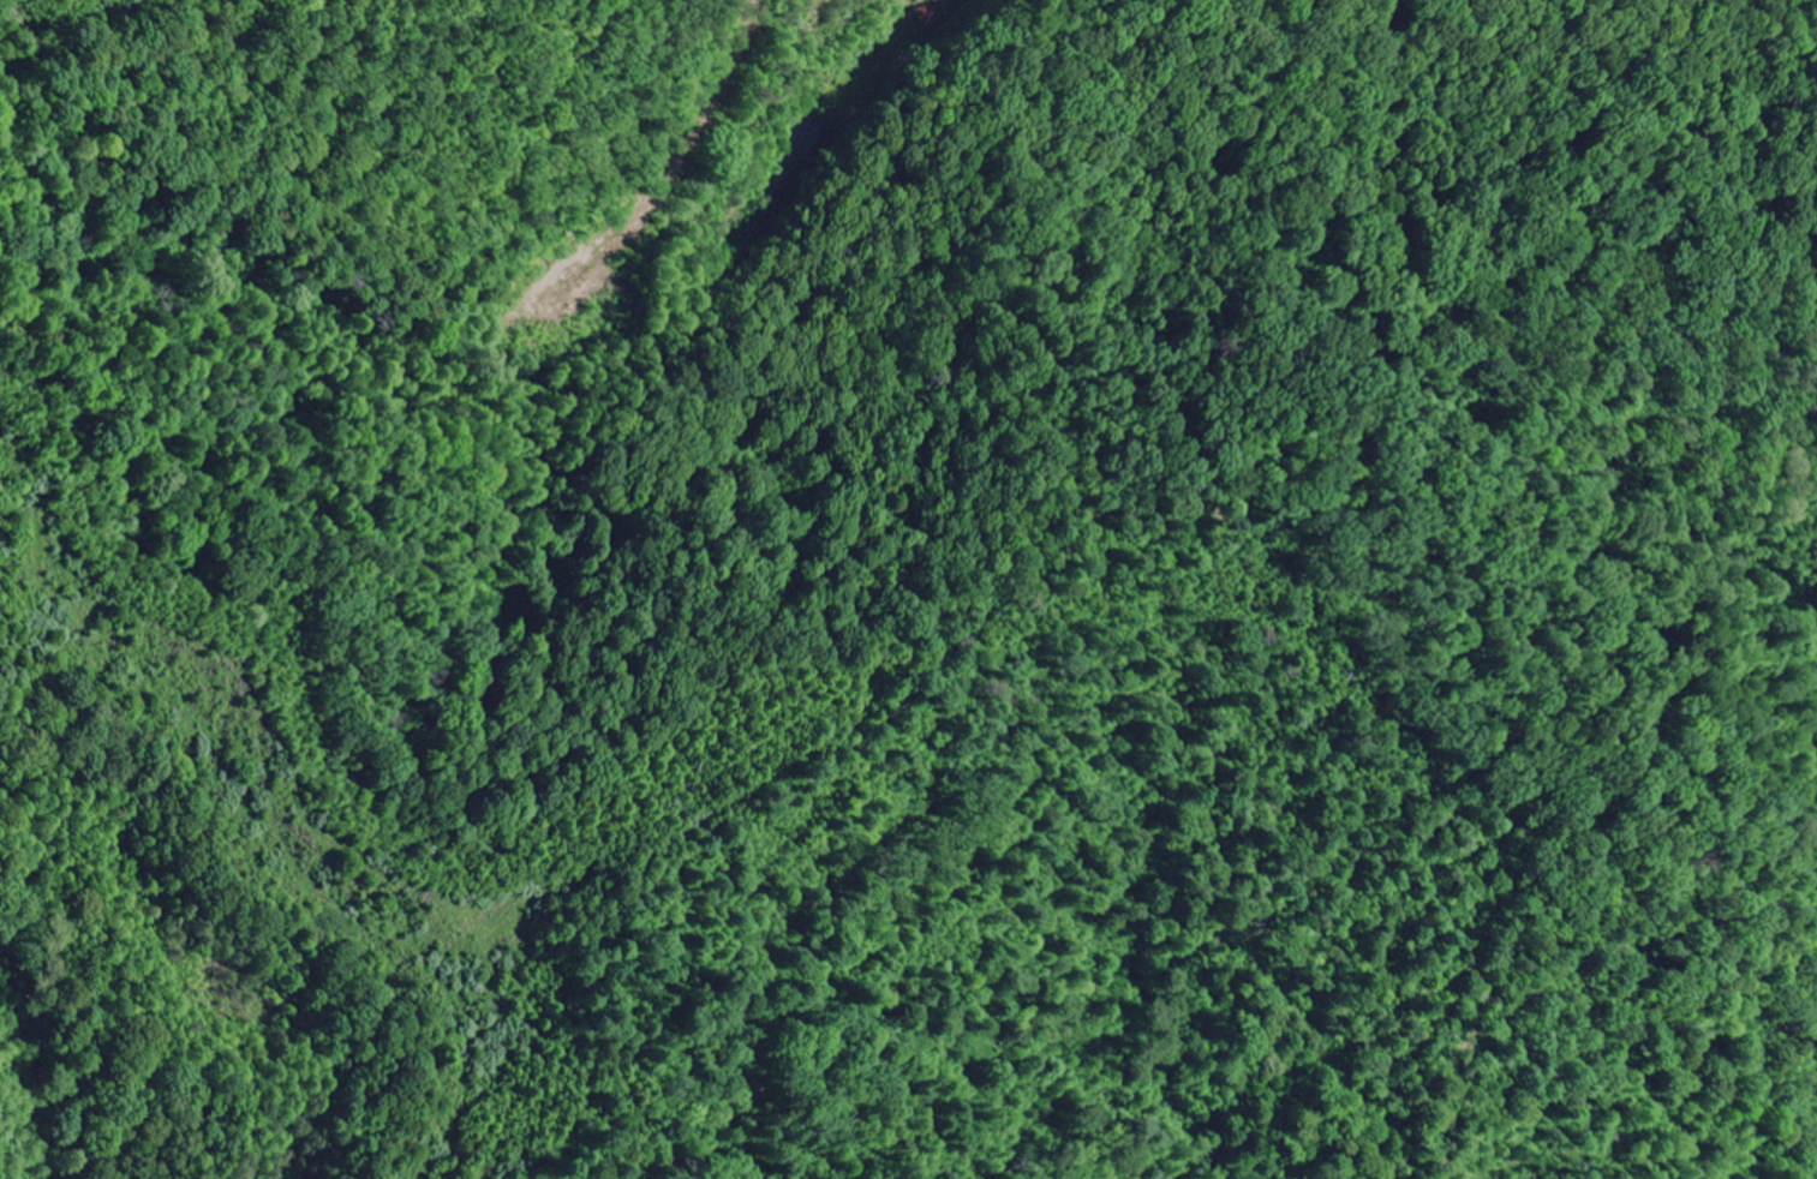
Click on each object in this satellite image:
road: (1194, 826)

